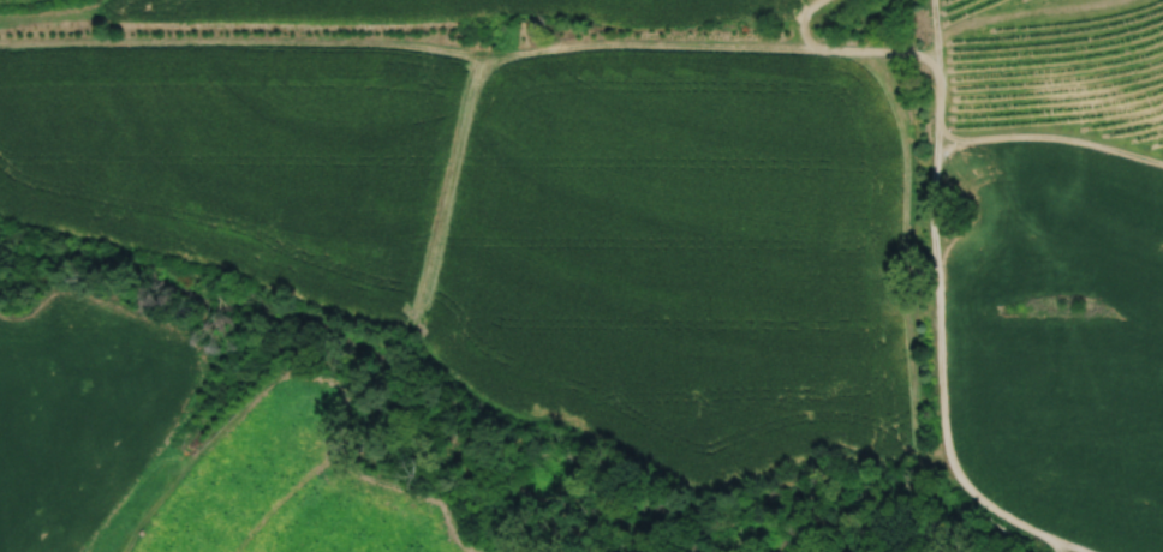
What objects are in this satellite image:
theme park: (1038, 275)

